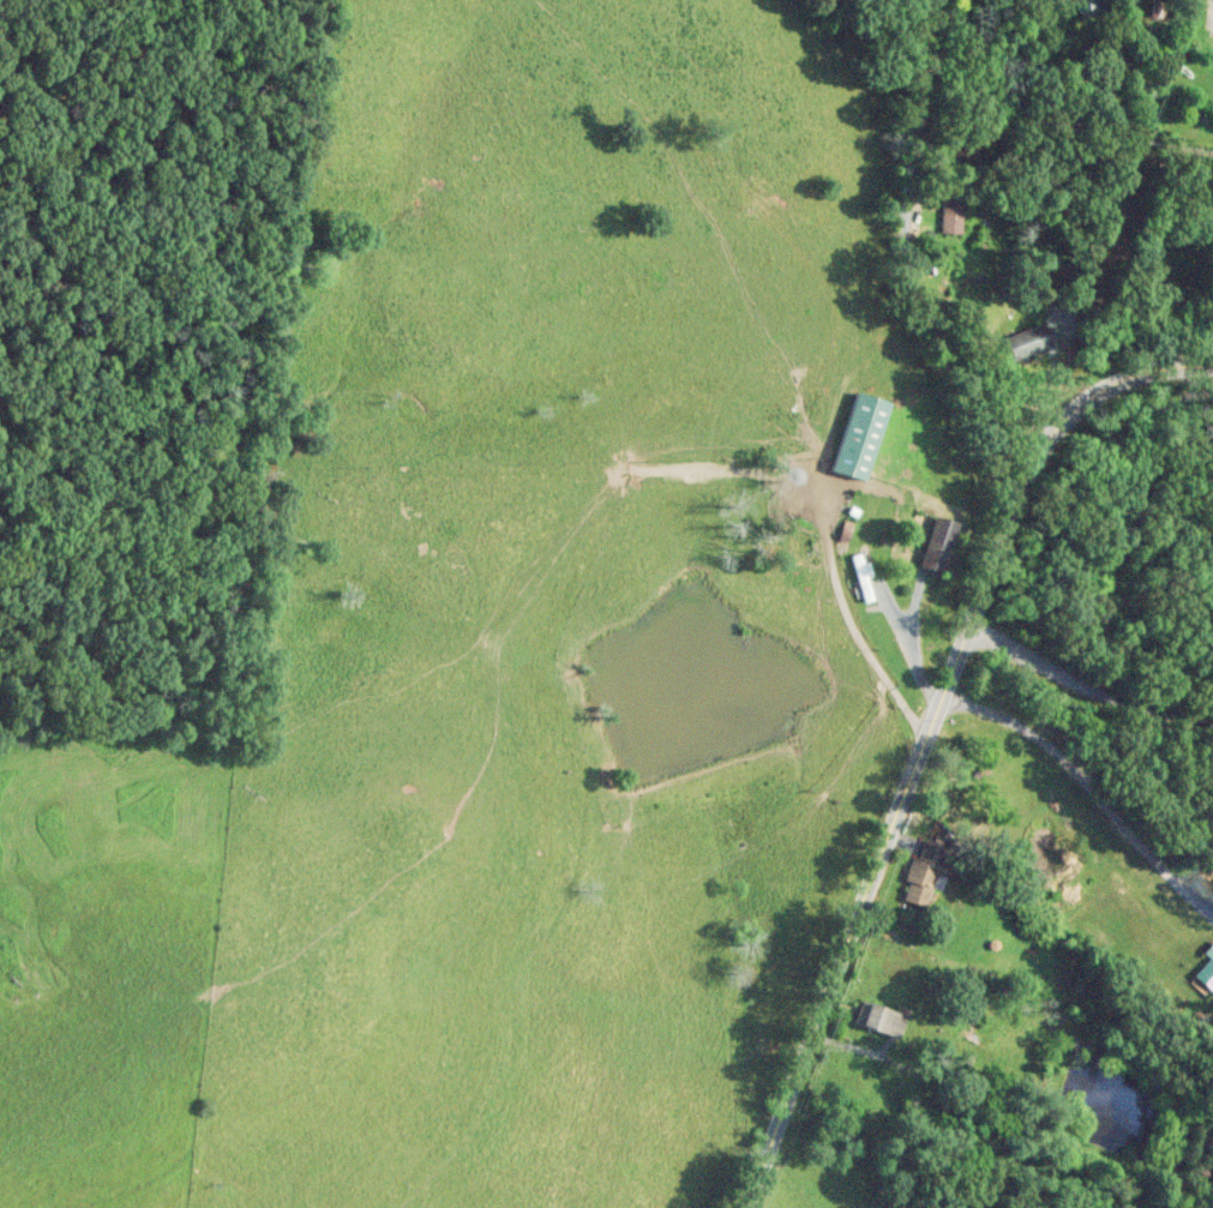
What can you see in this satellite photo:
road: (1211, 11)
building: (951, 215)
road: (906, 269)
building: (1029, 341)
building: (860, 434)
building: (938, 543)
building: (863, 576)
road: (1085, 686)
road: (926, 732)
building: (926, 872)
building: (882, 1016)

